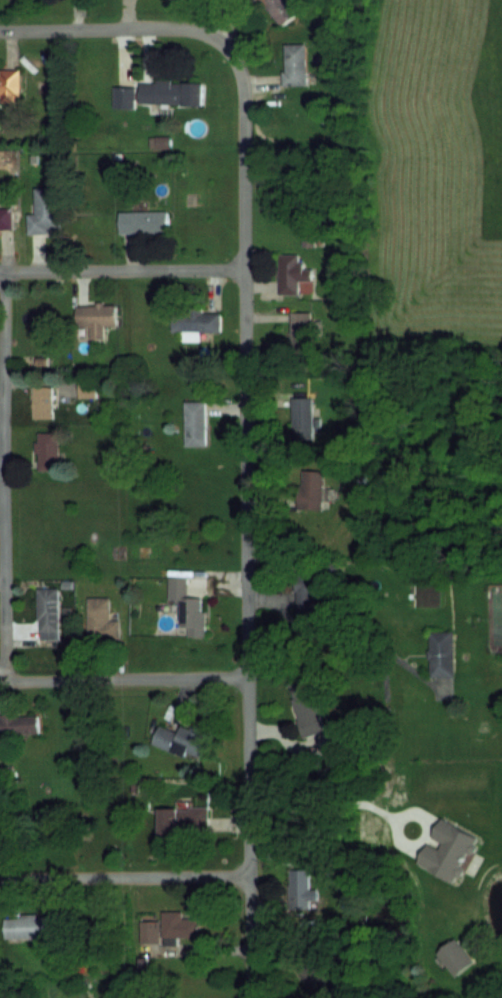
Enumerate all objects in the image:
building: (281, 10)
building: (295, 63)
building: (9, 86)
building: (171, 92)
building: (123, 97)
building: (45, 211)
building: (7, 218)
building: (143, 221)
road: (246, 244)
road: (123, 270)
building: (294, 275)
building: (96, 318)
building: (196, 321)
building: (301, 331)
building: (87, 389)
building: (42, 402)
building: (302, 417)
building: (195, 423)
building: (47, 451)
road: (3, 476)
building: (310, 490)
building: (306, 584)
building: (188, 606)
building: (48, 613)
building: (101, 619)
building: (441, 653)
road: (122, 678)
building: (308, 706)
building: (18, 724)
building: (181, 741)
building: (183, 821)
road: (248, 837)
building: (455, 842)
road: (124, 877)
building: (300, 891)
building: (25, 925)
building: (168, 928)
building: (456, 958)

